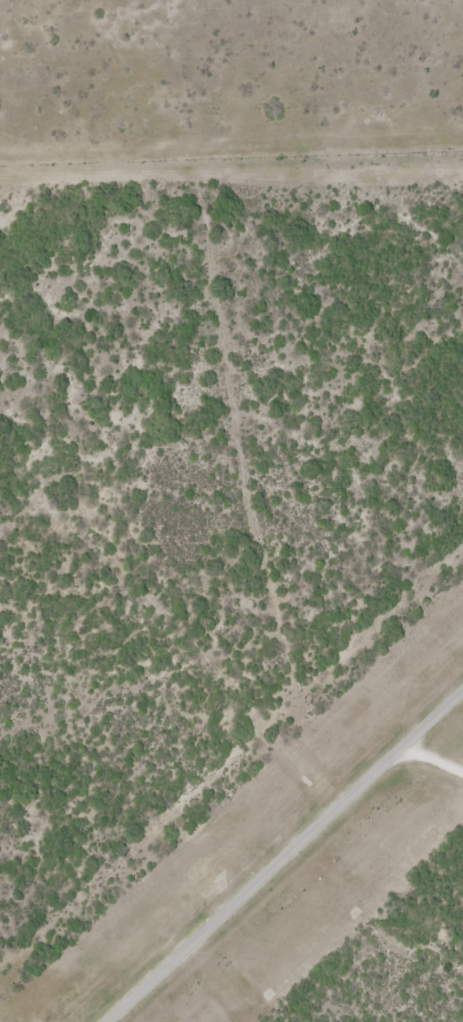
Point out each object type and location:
road: (427, 761)
road: (288, 855)

